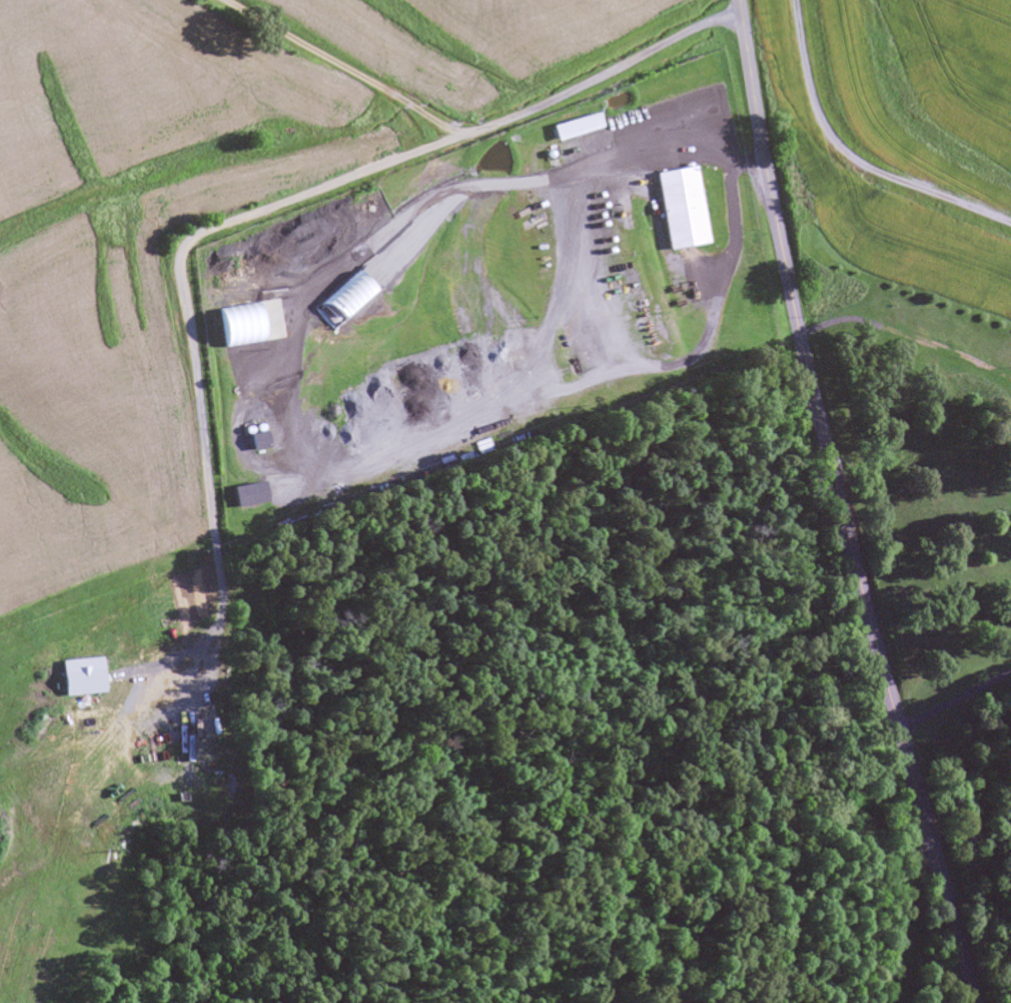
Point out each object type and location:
building: (577, 125)
road: (475, 132)
building: (681, 207)
building: (347, 298)
building: (242, 323)
building: (260, 440)
building: (251, 492)
road: (840, 505)

